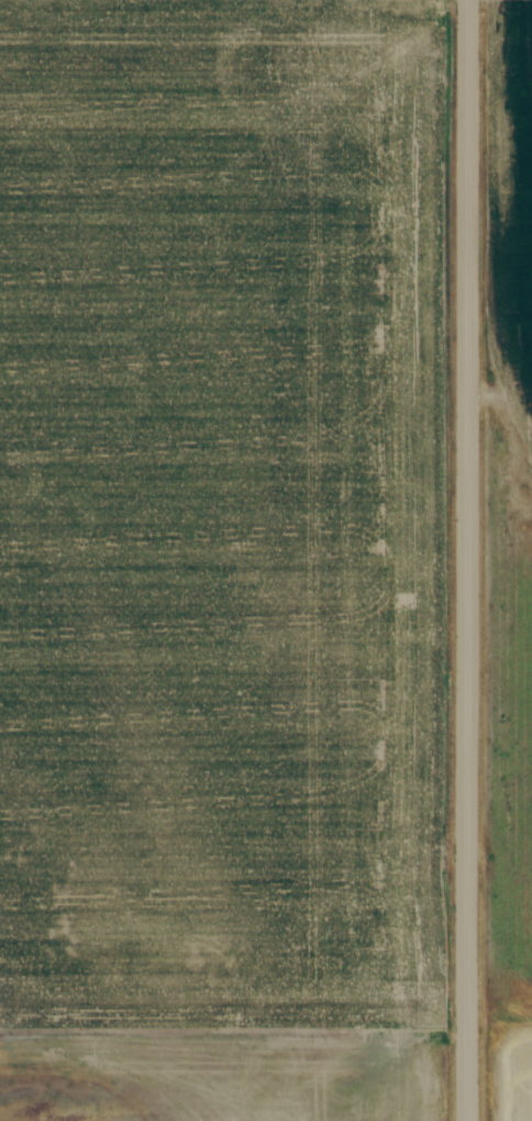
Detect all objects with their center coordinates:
crop: (228, 541)
road: (466, 560)
crop: (510, 561)

